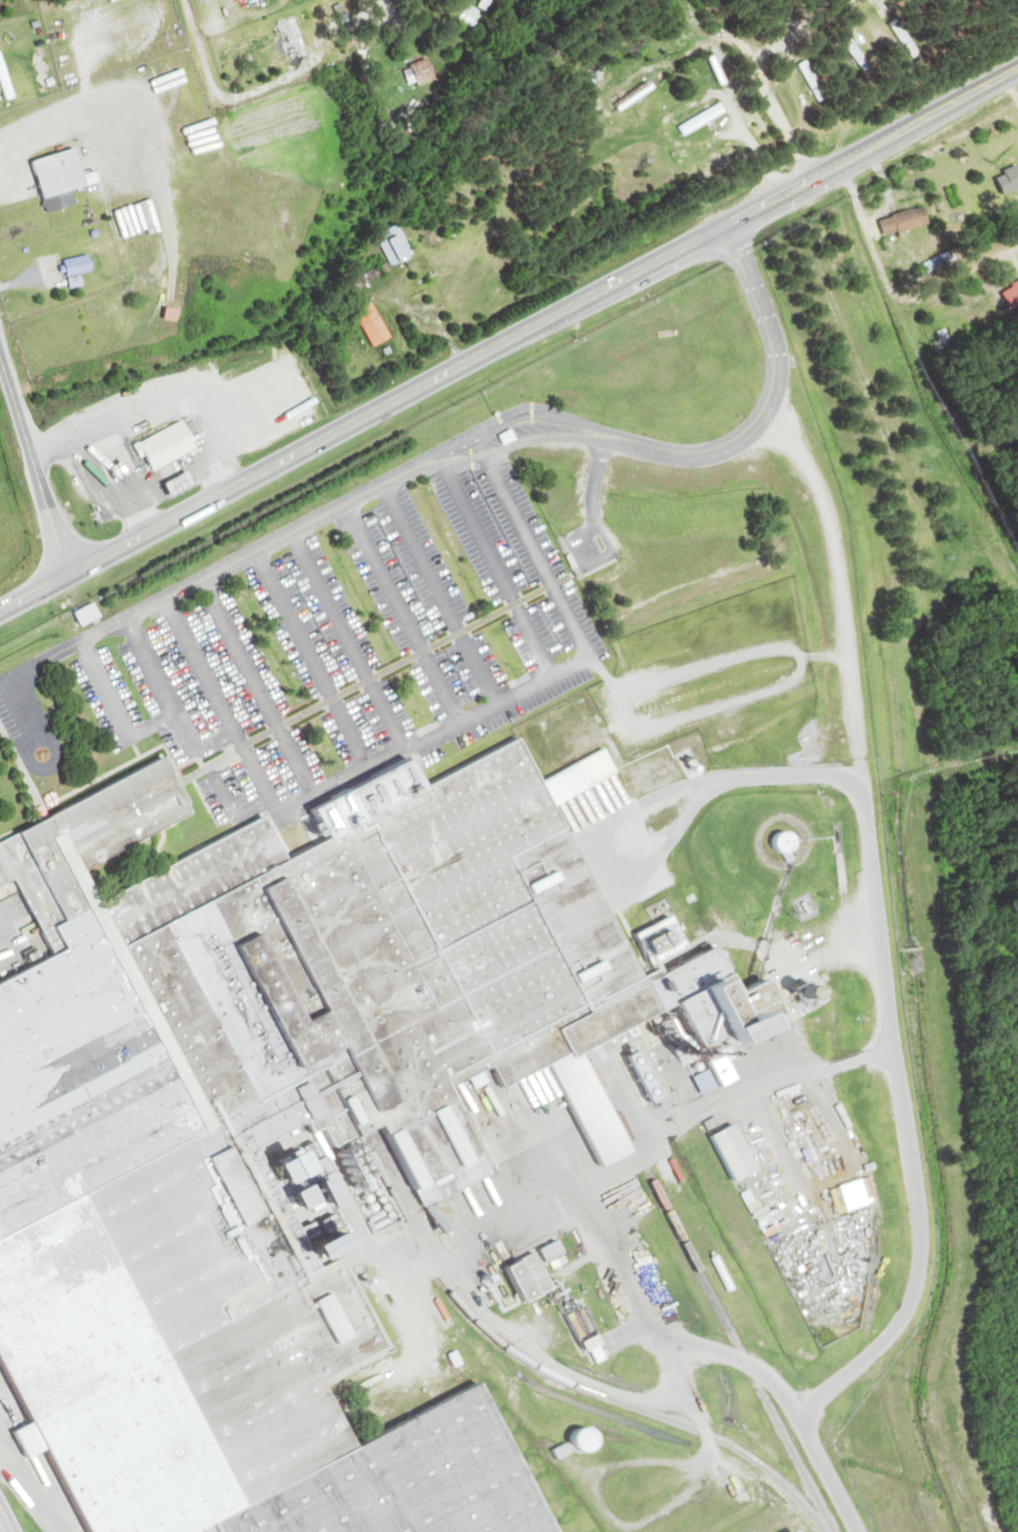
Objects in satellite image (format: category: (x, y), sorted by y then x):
building: (490, 4)
building: (905, 38)
building: (292, 43)
road: (204, 47)
building: (860, 58)
building: (428, 72)
building: (8, 77)
building: (814, 82)
building: (367, 86)
building: (1009, 178)
building: (66, 179)
building: (134, 221)
building: (291, 224)
building: (399, 246)
building: (79, 271)
road: (882, 274)
building: (376, 325)
road: (509, 340)
building: (943, 342)
road: (519, 418)
road: (753, 423)
building: (513, 438)
road: (523, 442)
building: (174, 445)
road: (34, 464)
building: (186, 483)
road: (840, 574)
road: (441, 592)
road: (154, 602)
road: (402, 611)
building: (92, 615)
road: (349, 638)
parking lot: (321, 648)
road: (714, 667)
road: (567, 672)
road: (319, 678)
road: (718, 711)
road: (458, 721)
road: (151, 724)
road: (199, 751)
road: (304, 807)
road: (235, 808)
building: (788, 843)
building: (289, 1138)
building: (740, 1154)
road: (915, 1170)
building: (366, 1171)
building: (364, 1248)
building: (558, 1253)
railway: (715, 1294)
railway: (530, 1364)
railway: (44, 1450)
road: (5, 1520)

